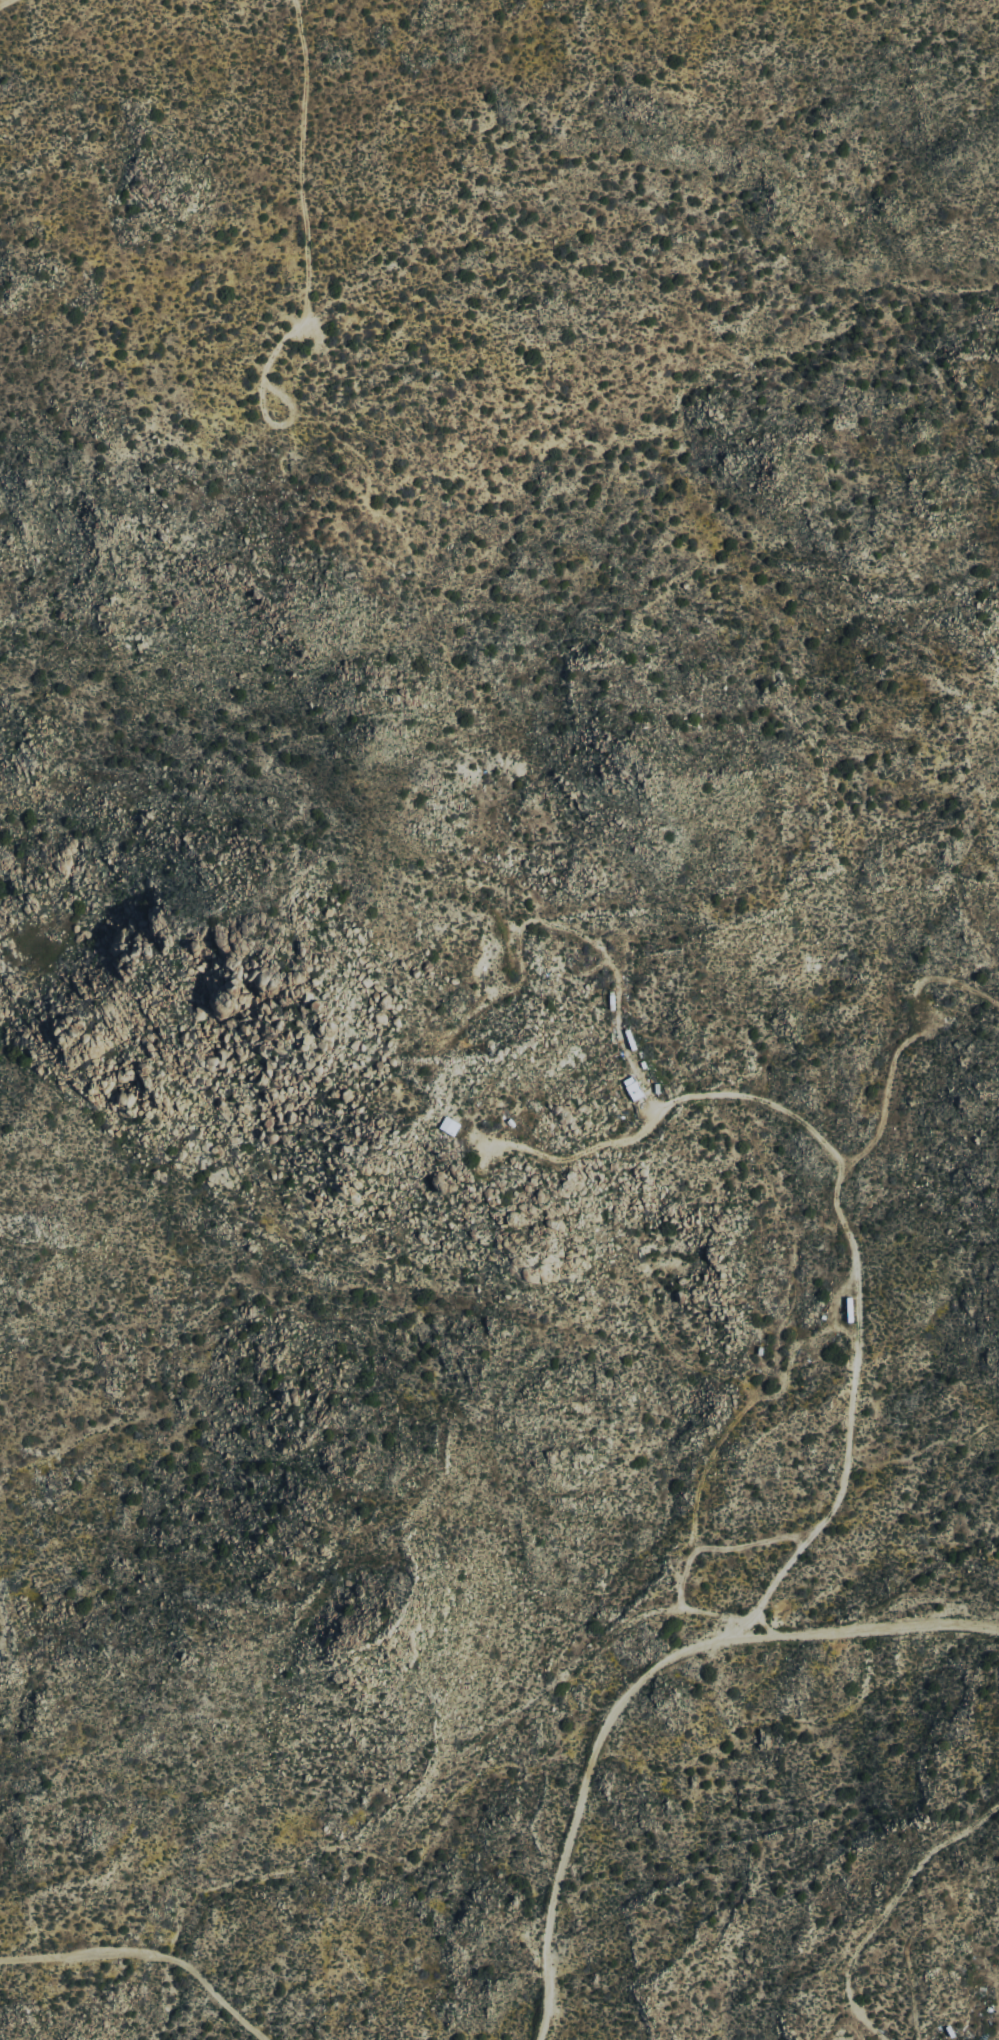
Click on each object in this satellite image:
road: (9, 0)
road: (6, 3)
road: (304, 197)
road: (286, 421)
road: (146, 1953)

